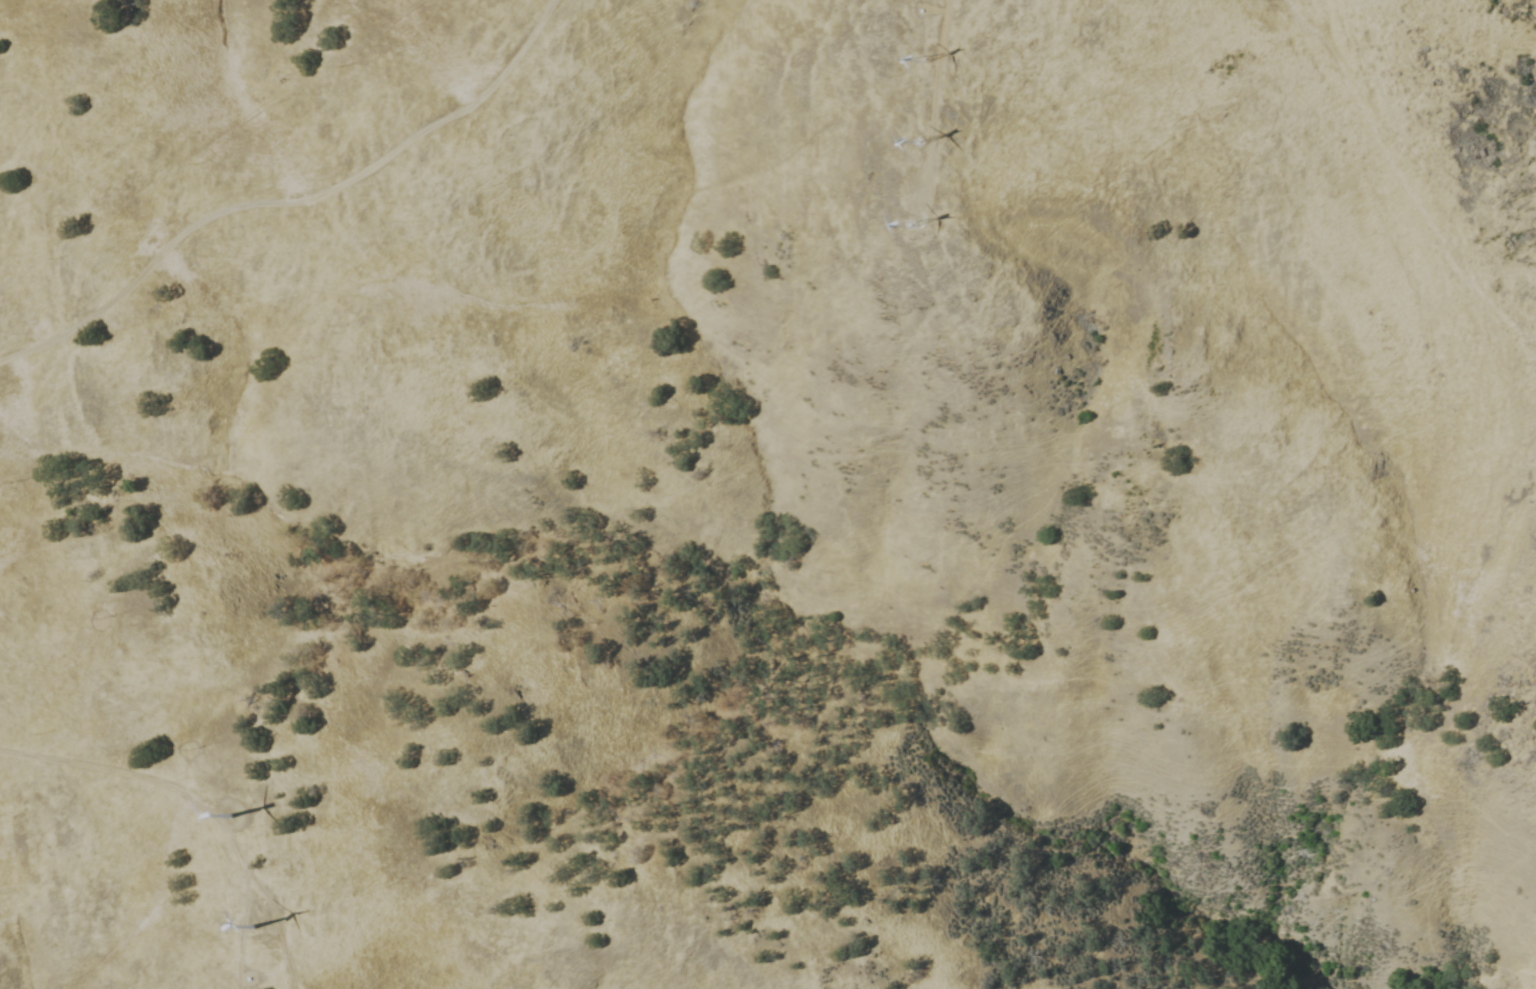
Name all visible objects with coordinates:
wind turbine: (923, 60)
road: (933, 101)
wind turbine: (916, 142)
road: (290, 201)
wind turbine: (904, 223)
road: (140, 777)
wind turbine: (240, 815)
road: (276, 924)
wind turbine: (252, 925)
road: (241, 927)

